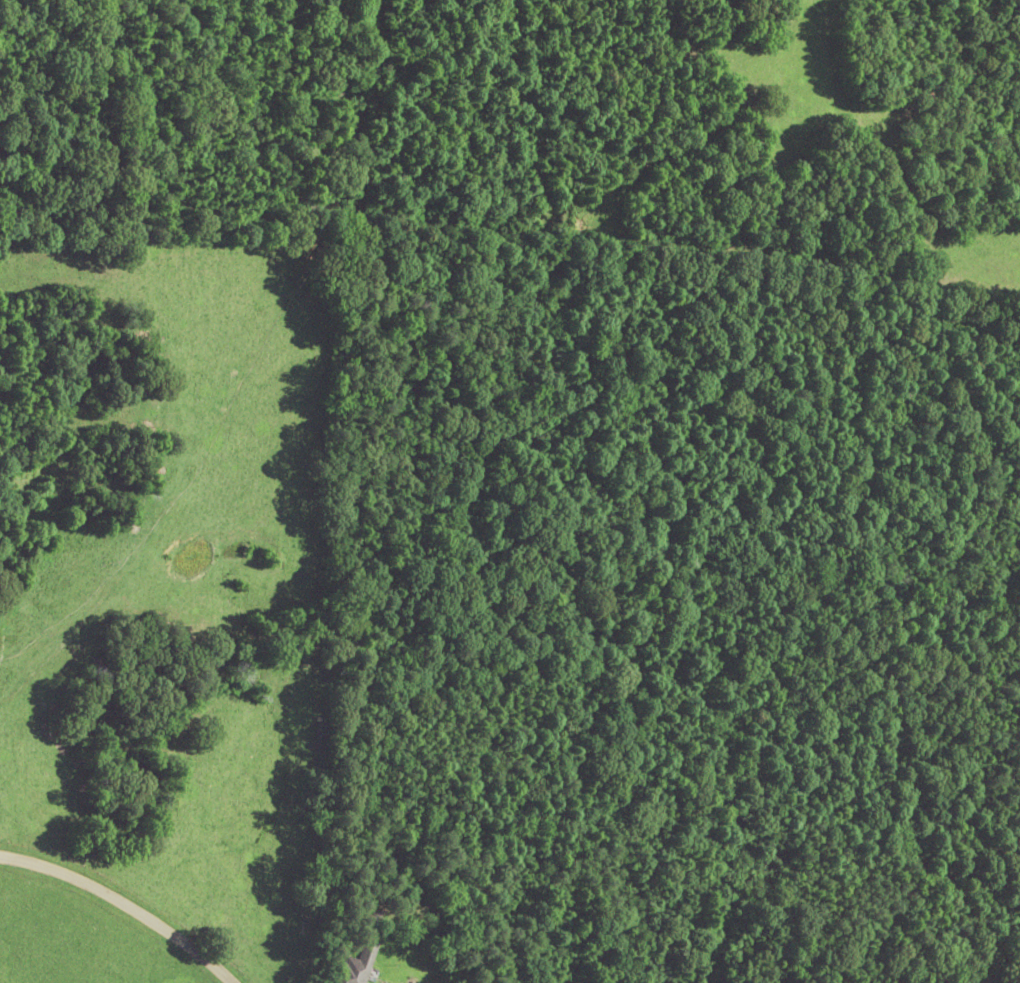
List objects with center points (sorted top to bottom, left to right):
road: (105, 908)

